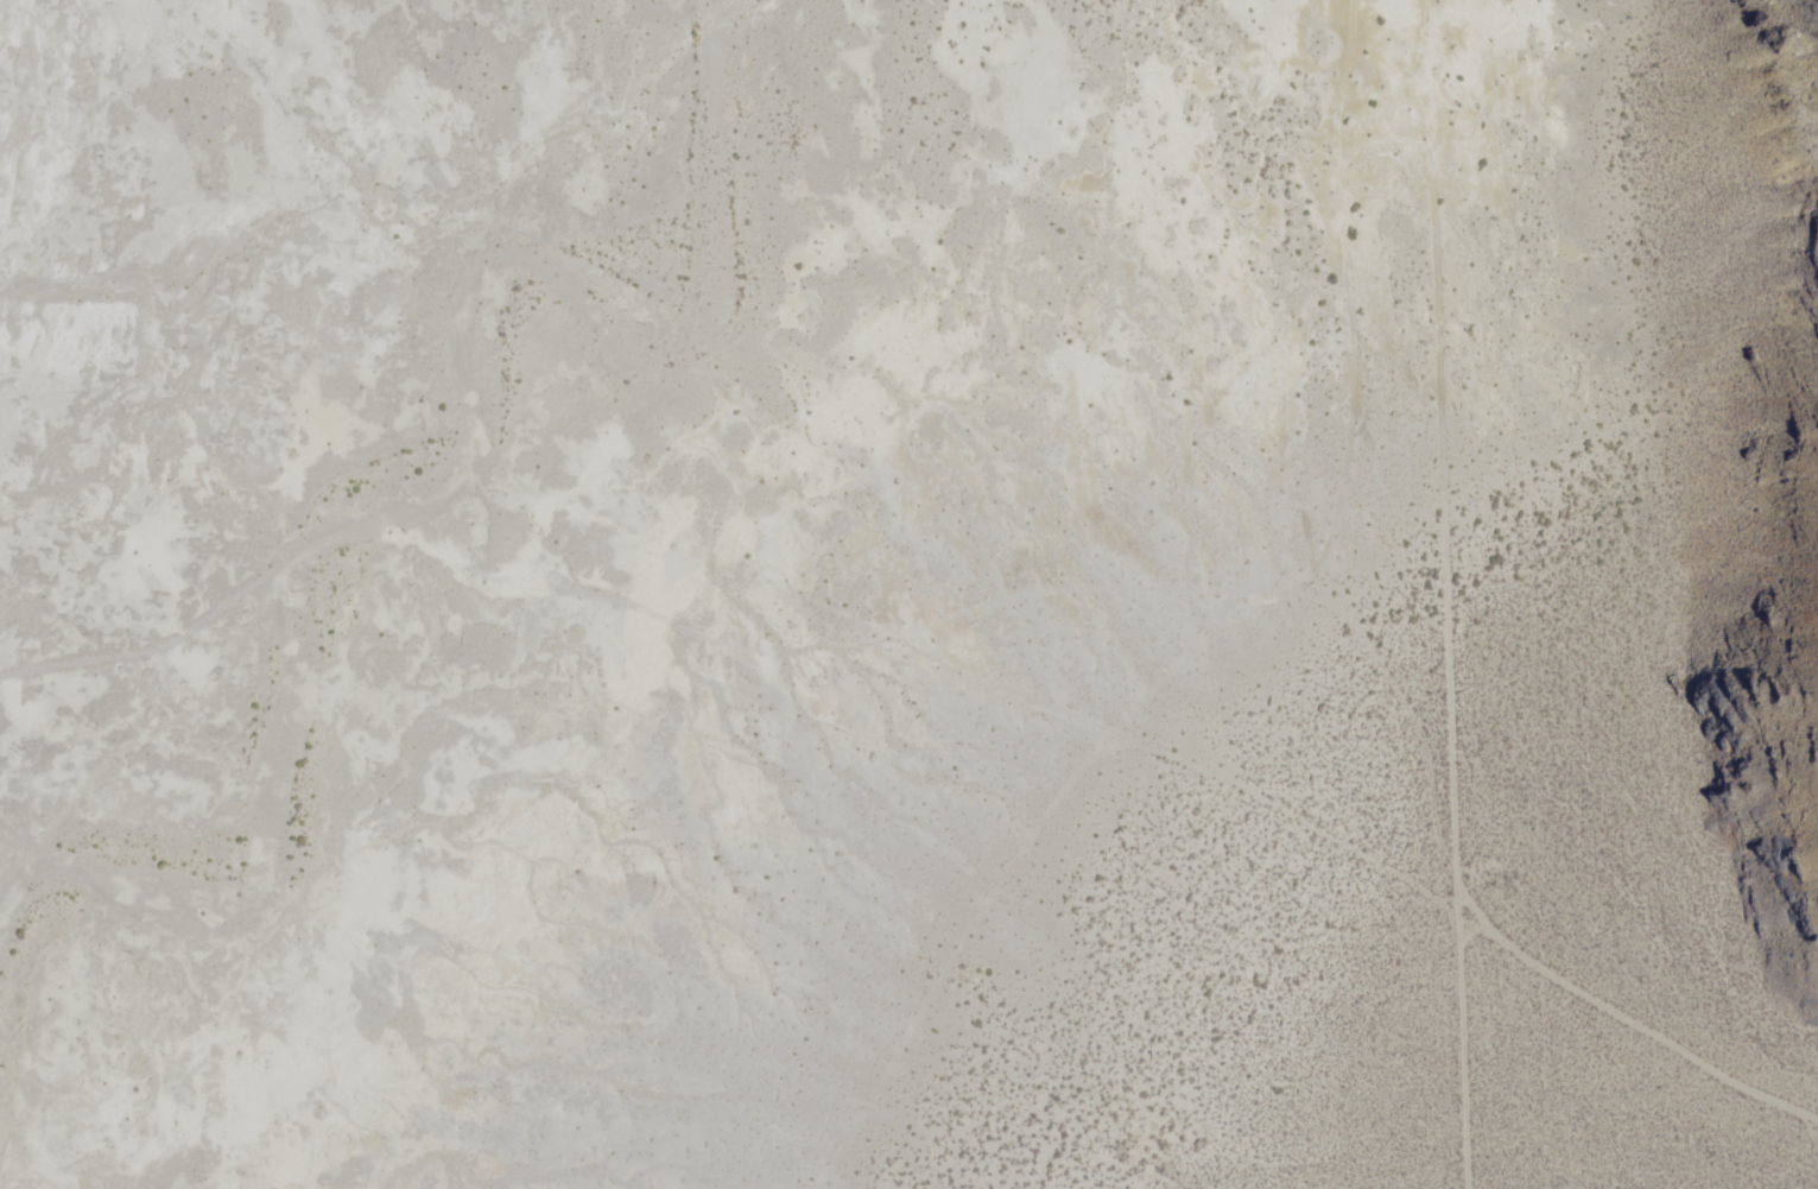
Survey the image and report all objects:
road: (228, 619)
road: (1455, 658)
road: (1470, 1039)

